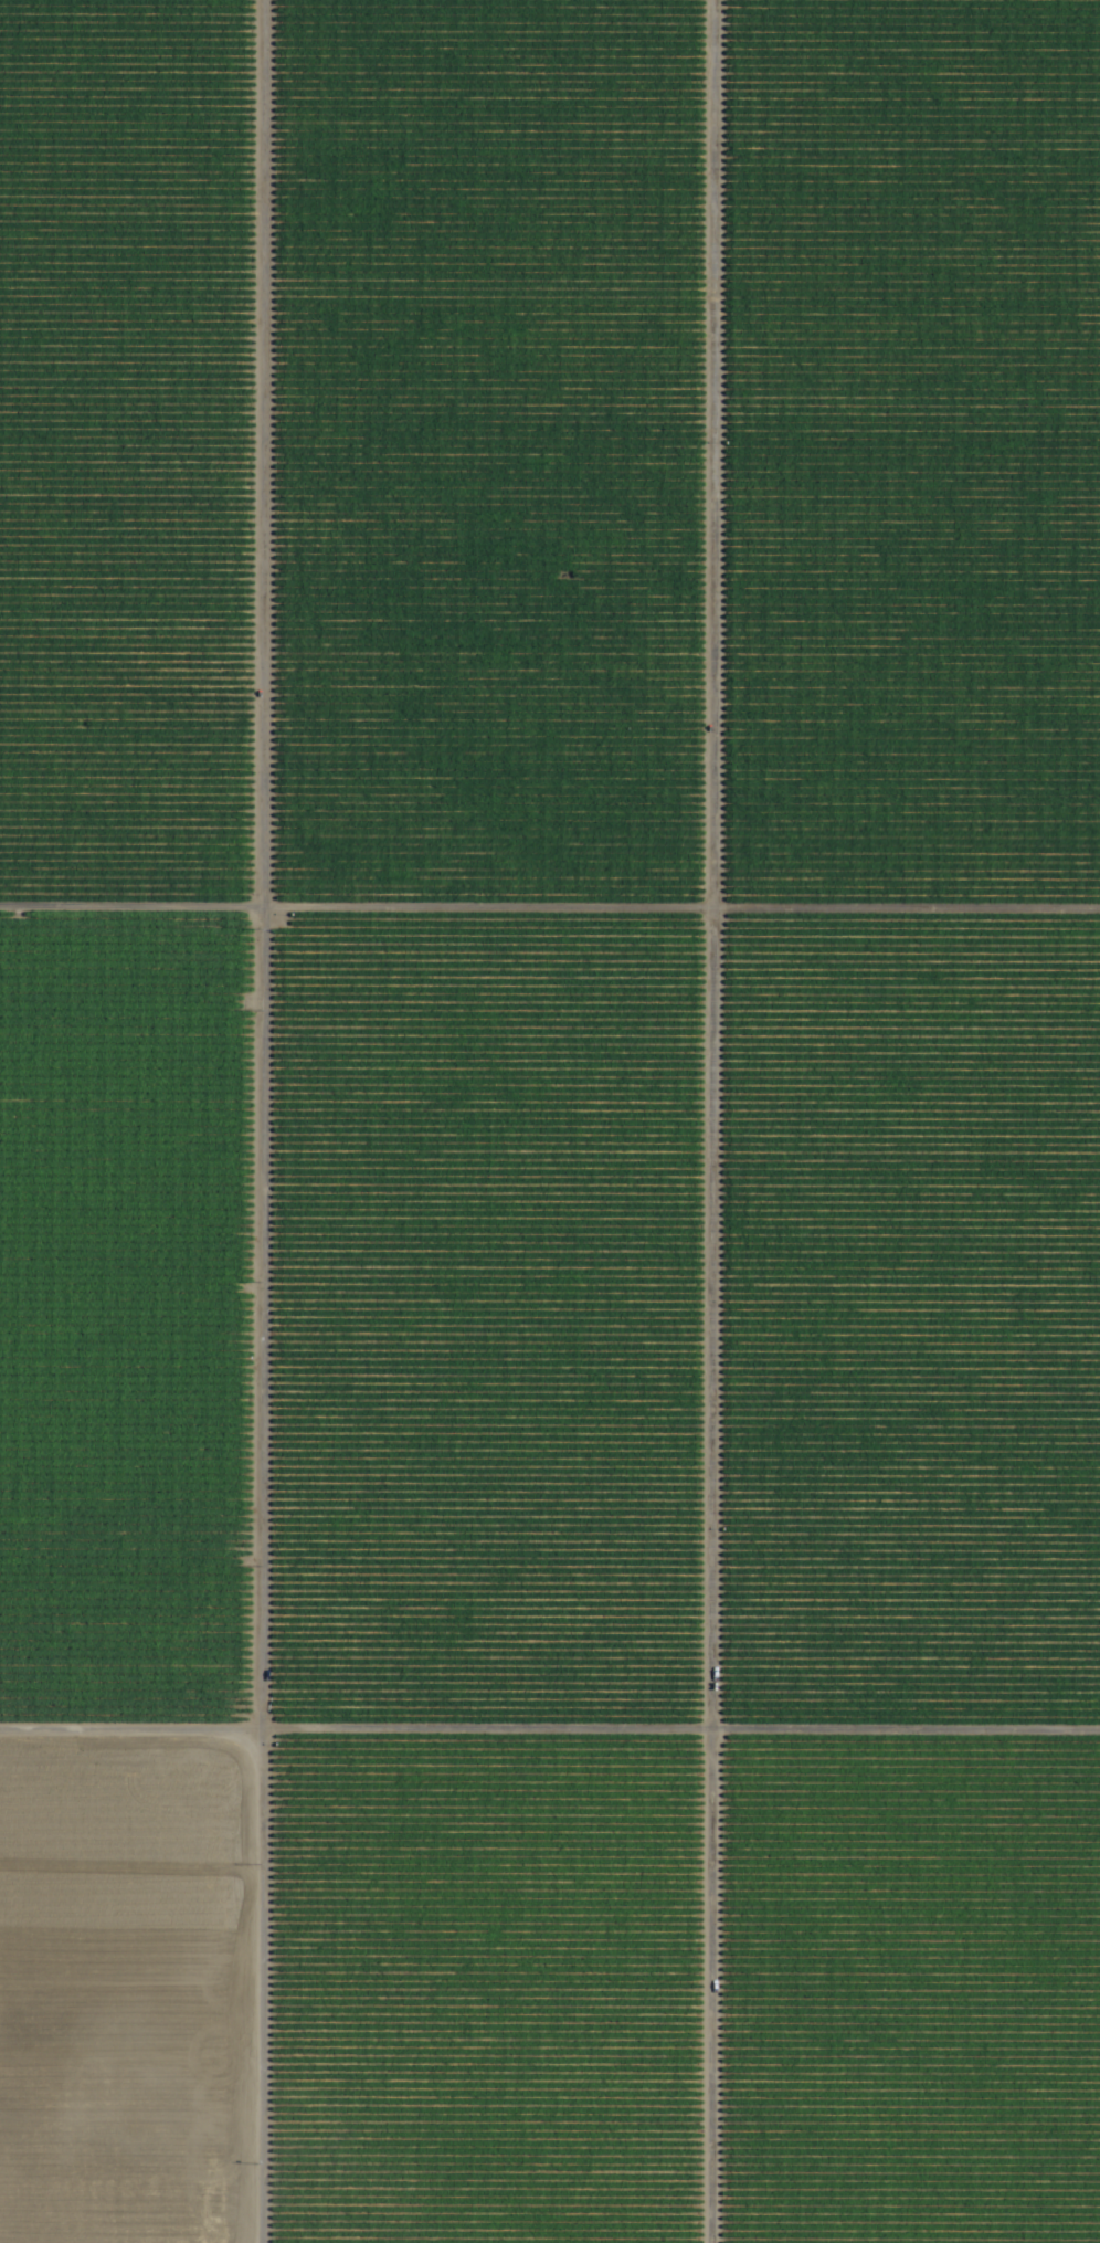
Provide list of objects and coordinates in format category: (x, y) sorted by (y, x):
road: (549, 949)
road: (250, 1121)
crop: (550, 1121)

